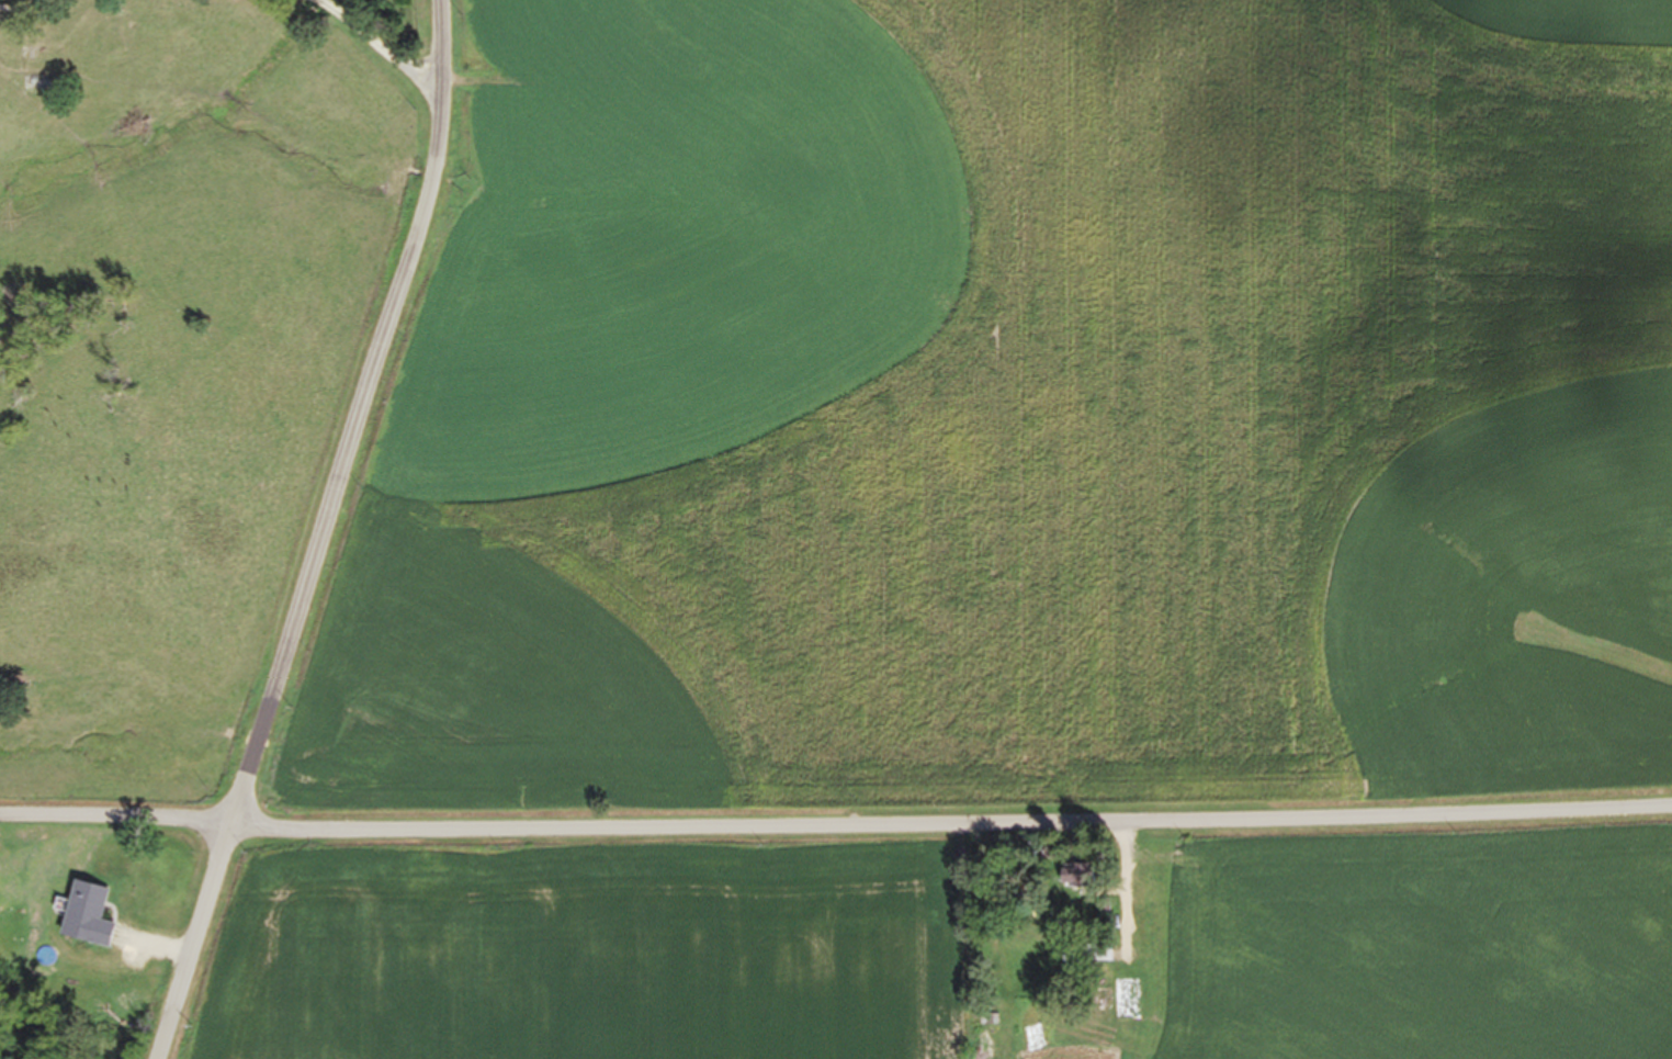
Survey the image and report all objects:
road: (373, 41)
building: (37, 82)
road: (316, 531)
road: (836, 823)
building: (1076, 875)

